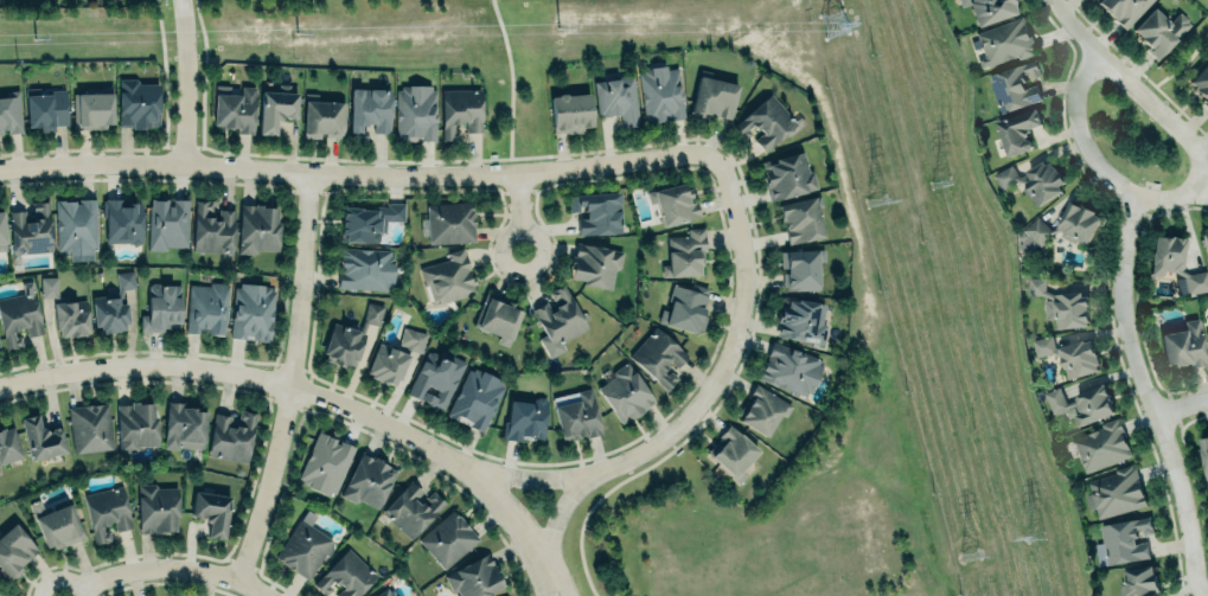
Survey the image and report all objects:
building: (989, 9)
building: (1123, 9)
power tower: (833, 24)
building: (1158, 30)
building: (1004, 41)
road: (1178, 65)
road: (183, 82)
road: (1126, 82)
building: (1201, 83)
road: (509, 85)
building: (1015, 85)
building: (659, 94)
building: (714, 97)
building: (616, 100)
building: (138, 103)
building: (234, 108)
building: (275, 108)
building: (46, 109)
building: (92, 109)
building: (369, 110)
building: (460, 110)
building: (9, 111)
building: (415, 111)
building: (569, 111)
building: (324, 117)
building: (767, 122)
building: (1017, 130)
road: (1099, 167)
building: (786, 174)
road: (359, 175)
power tower: (939, 178)
building: (1034, 181)
power tower: (877, 199)
building: (673, 203)
road: (519, 211)
building: (596, 211)
building: (800, 218)
building: (122, 220)
building: (367, 220)
building: (449, 222)
building: (167, 223)
building: (1067, 225)
building: (76, 226)
building: (212, 227)
building: (257, 227)
building: (31, 230)
building: (2, 232)
building: (1204, 241)
building: (684, 254)
building: (1175, 262)
building: (594, 264)
building: (365, 268)
building: (800, 268)
building: (448, 276)
building: (49, 286)
building: (113, 305)
building: (1061, 306)
building: (685, 307)
building: (161, 308)
building: (206, 308)
building: (251, 312)
building: (372, 313)
building: (19, 314)
building: (71, 316)
building: (497, 316)
building: (558, 320)
building: (800, 320)
building: (1207, 333)
building: (411, 339)
building: (344, 344)
building: (1182, 345)
building: (1043, 346)
building: (658, 355)
building: (1078, 358)
building: (386, 364)
building: (790, 367)
building: (435, 378)
road: (294, 380)
road: (302, 389)
building: (624, 393)
road: (710, 393)
road: (1150, 397)
building: (475, 398)
building: (1081, 404)
road: (1182, 405)
building: (761, 410)
building: (579, 416)
building: (524, 417)
building: (136, 425)
building: (183, 427)
building: (90, 428)
building: (231, 435)
building: (41, 438)
building: (7, 444)
building: (1100, 446)
building: (733, 451)
building: (1204, 454)
building: (325, 463)
road: (531, 476)
building: (367, 480)
building: (1114, 492)
building: (156, 507)
building: (411, 510)
building: (212, 511)
building: (106, 512)
building: (56, 524)
power tower: (1030, 534)
building: (448, 539)
building: (1125, 540)
building: (303, 546)
building: (14, 550)
power tower: (972, 553)
road: (171, 568)
building: (344, 576)
building: (474, 577)
road: (543, 582)
road: (552, 582)
building: (1138, 582)
building: (386, 592)

